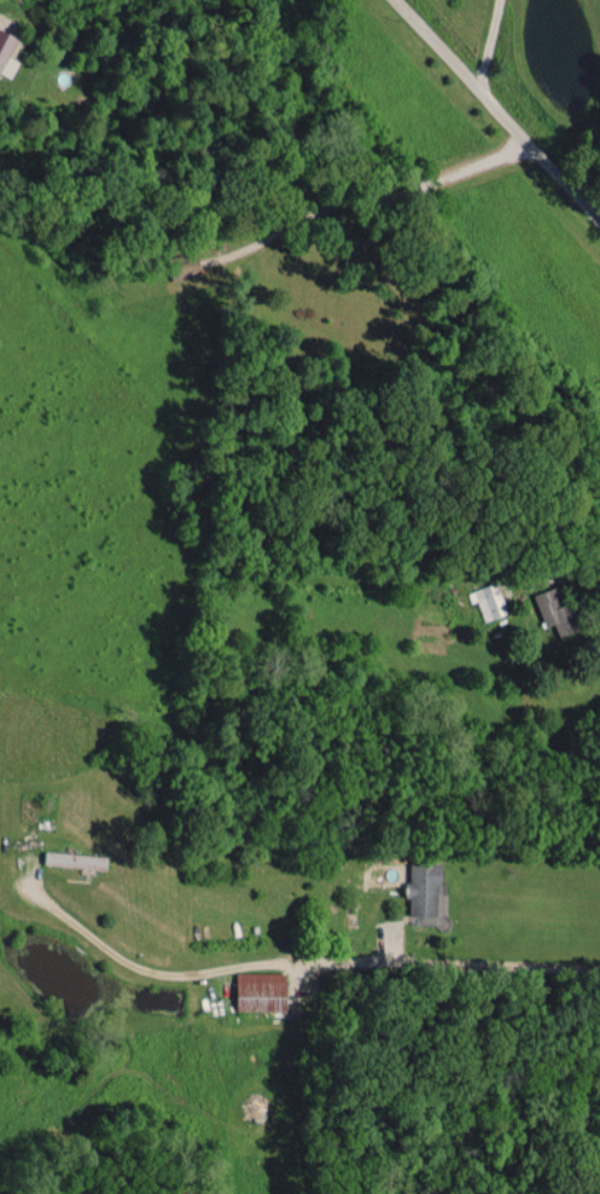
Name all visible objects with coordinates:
road: (488, 44)
building: (7, 52)
road: (499, 108)
road: (567, 578)
building: (489, 601)
building: (551, 604)
building: (76, 858)
building: (424, 887)
road: (299, 961)
building: (262, 990)

